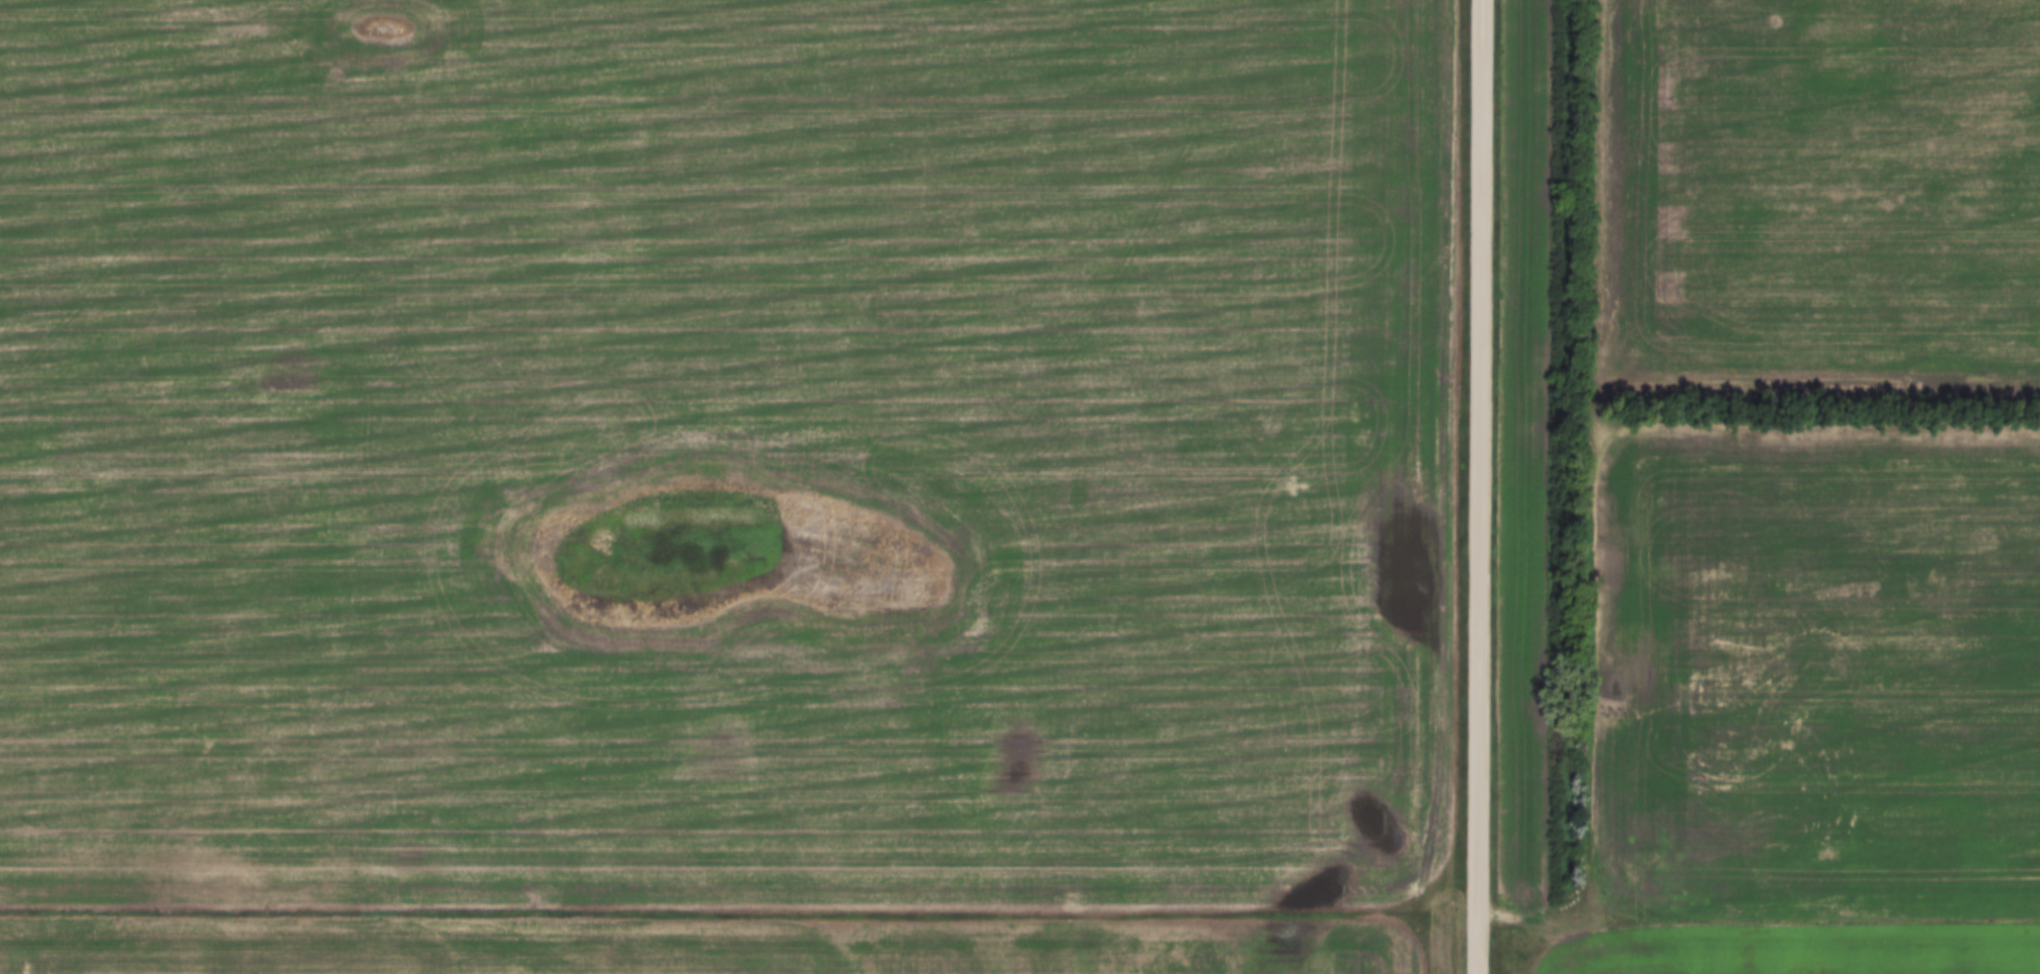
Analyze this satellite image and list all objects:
road: (1484, 487)

